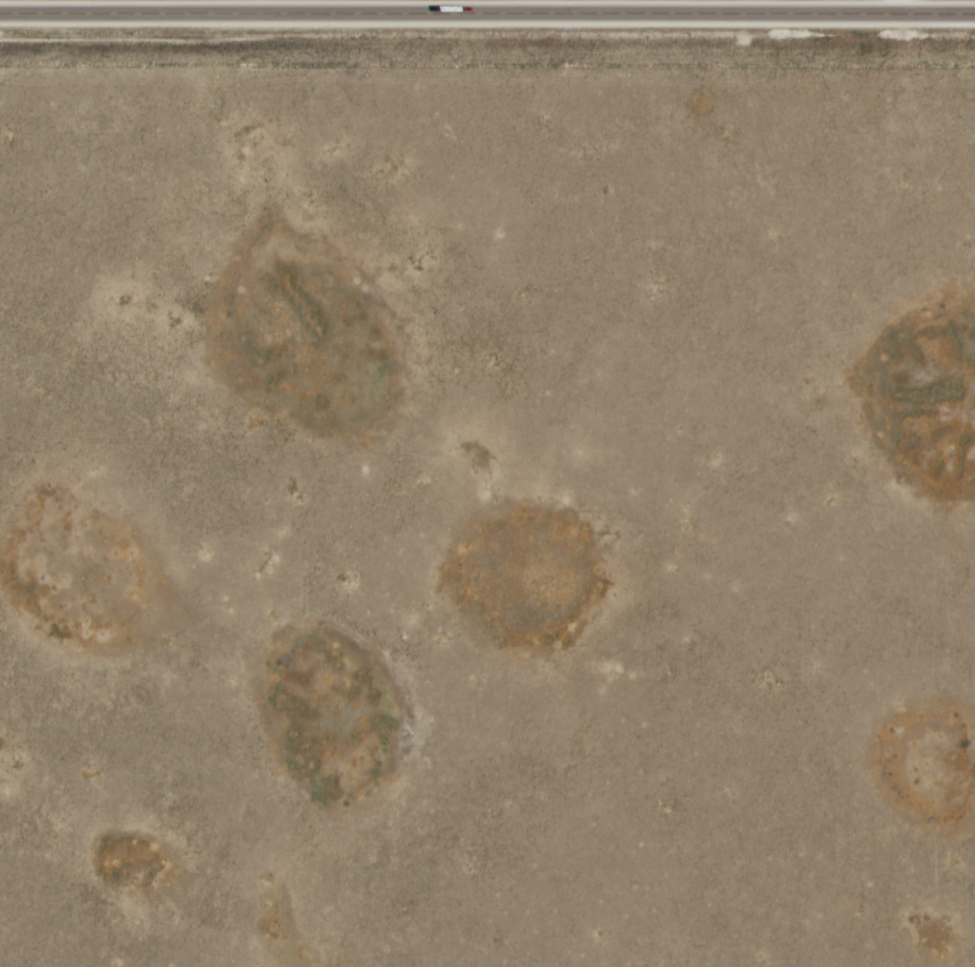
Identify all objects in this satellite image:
road: (903, 8)
road: (487, 16)

